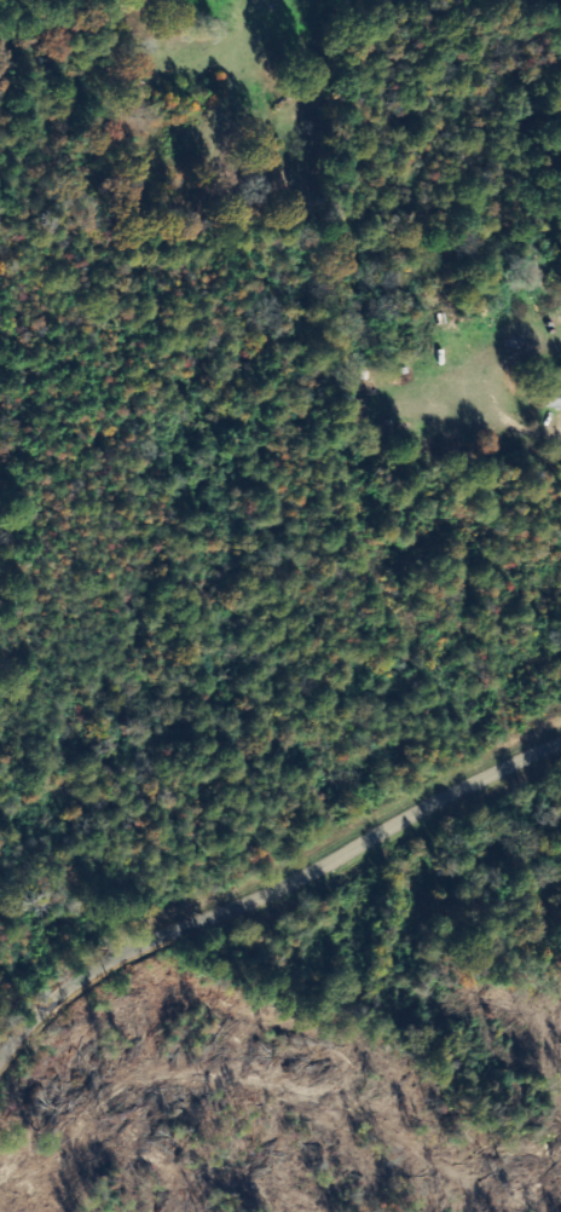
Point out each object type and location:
road: (496, 411)
road: (265, 901)

